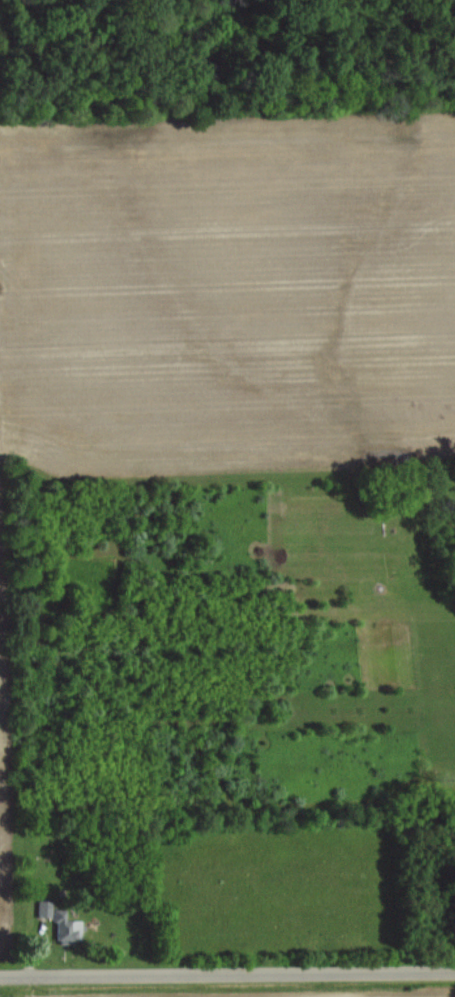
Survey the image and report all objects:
road: (227, 981)

